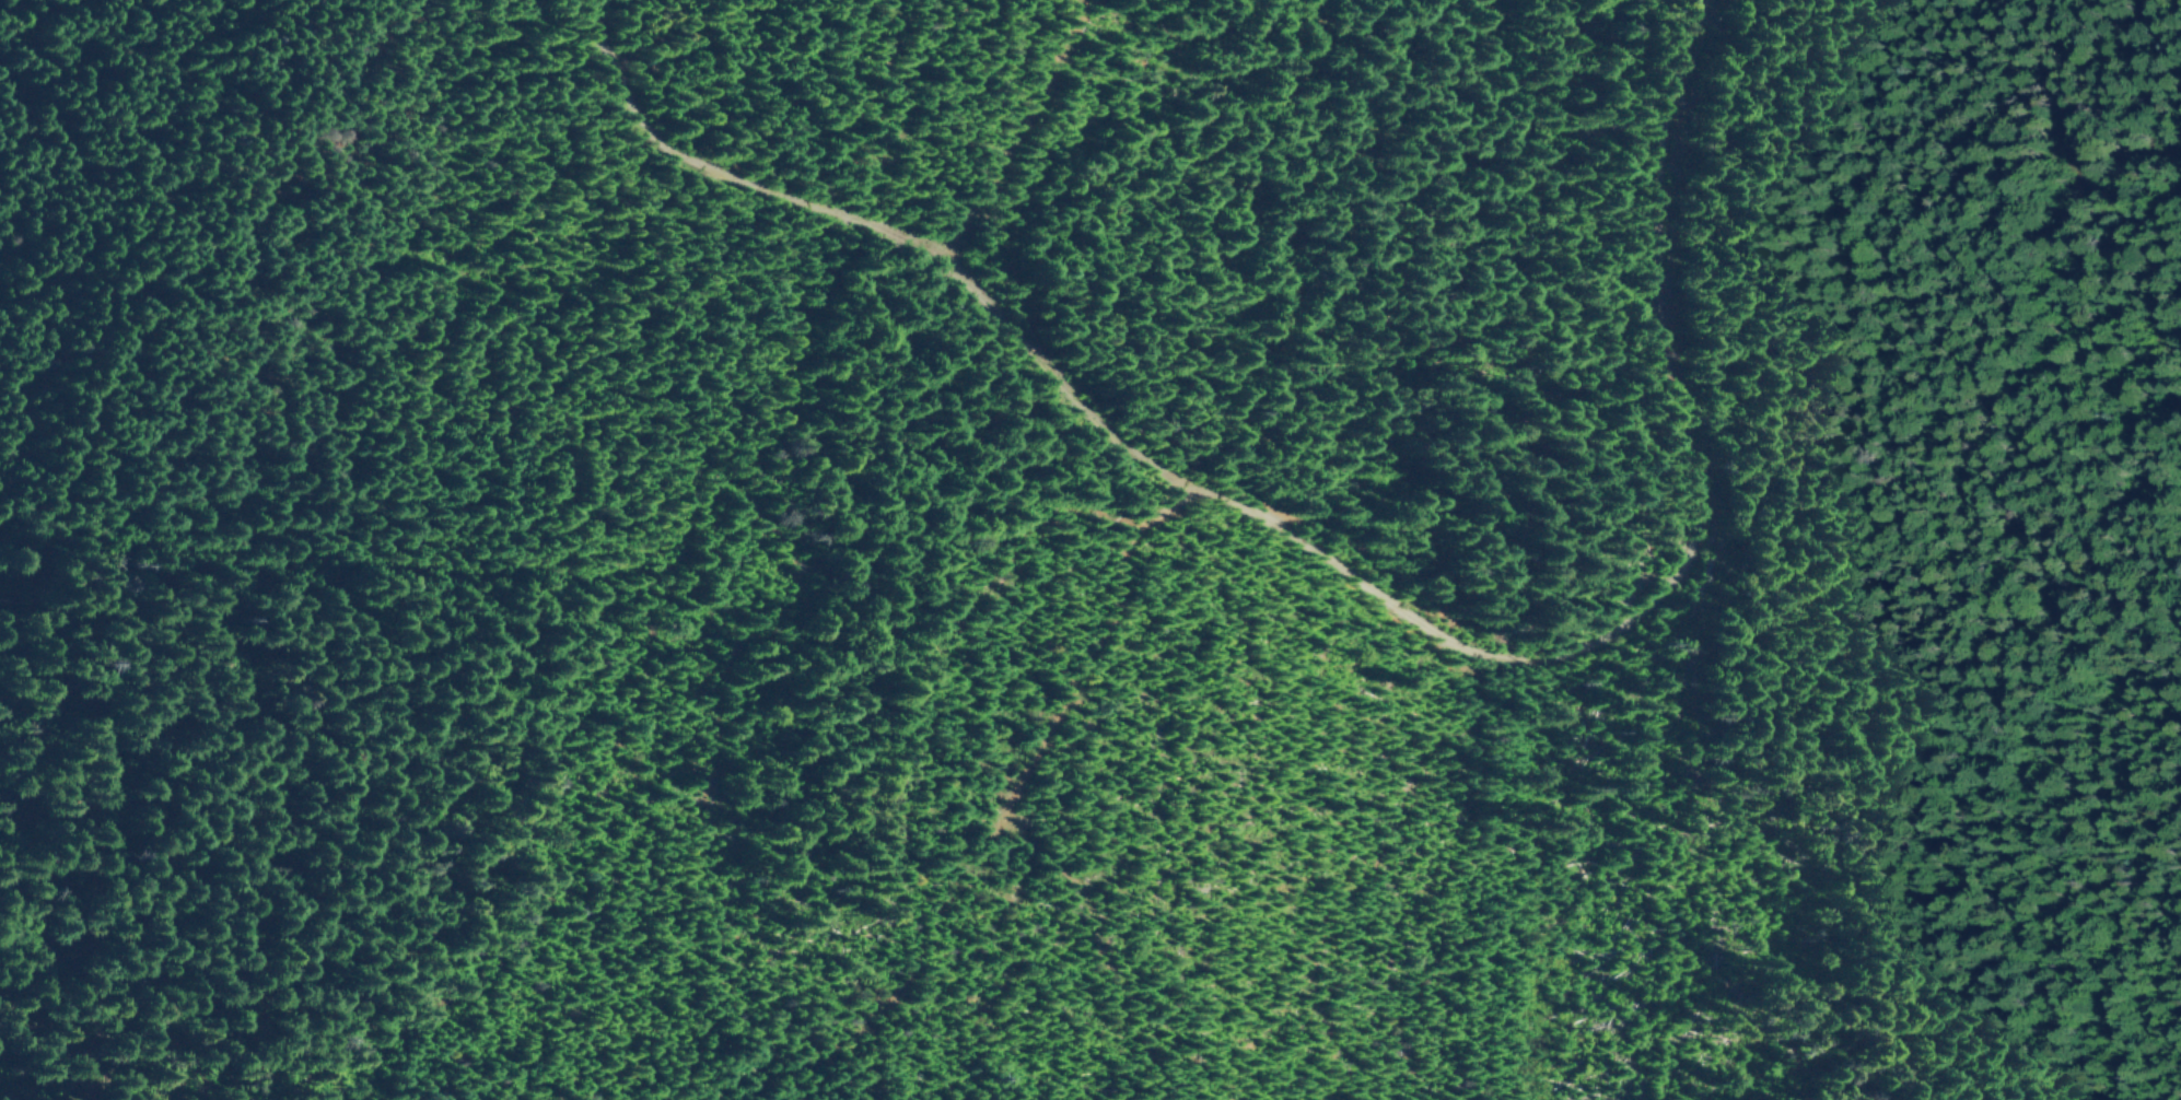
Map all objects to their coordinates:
road: (1337, 560)

